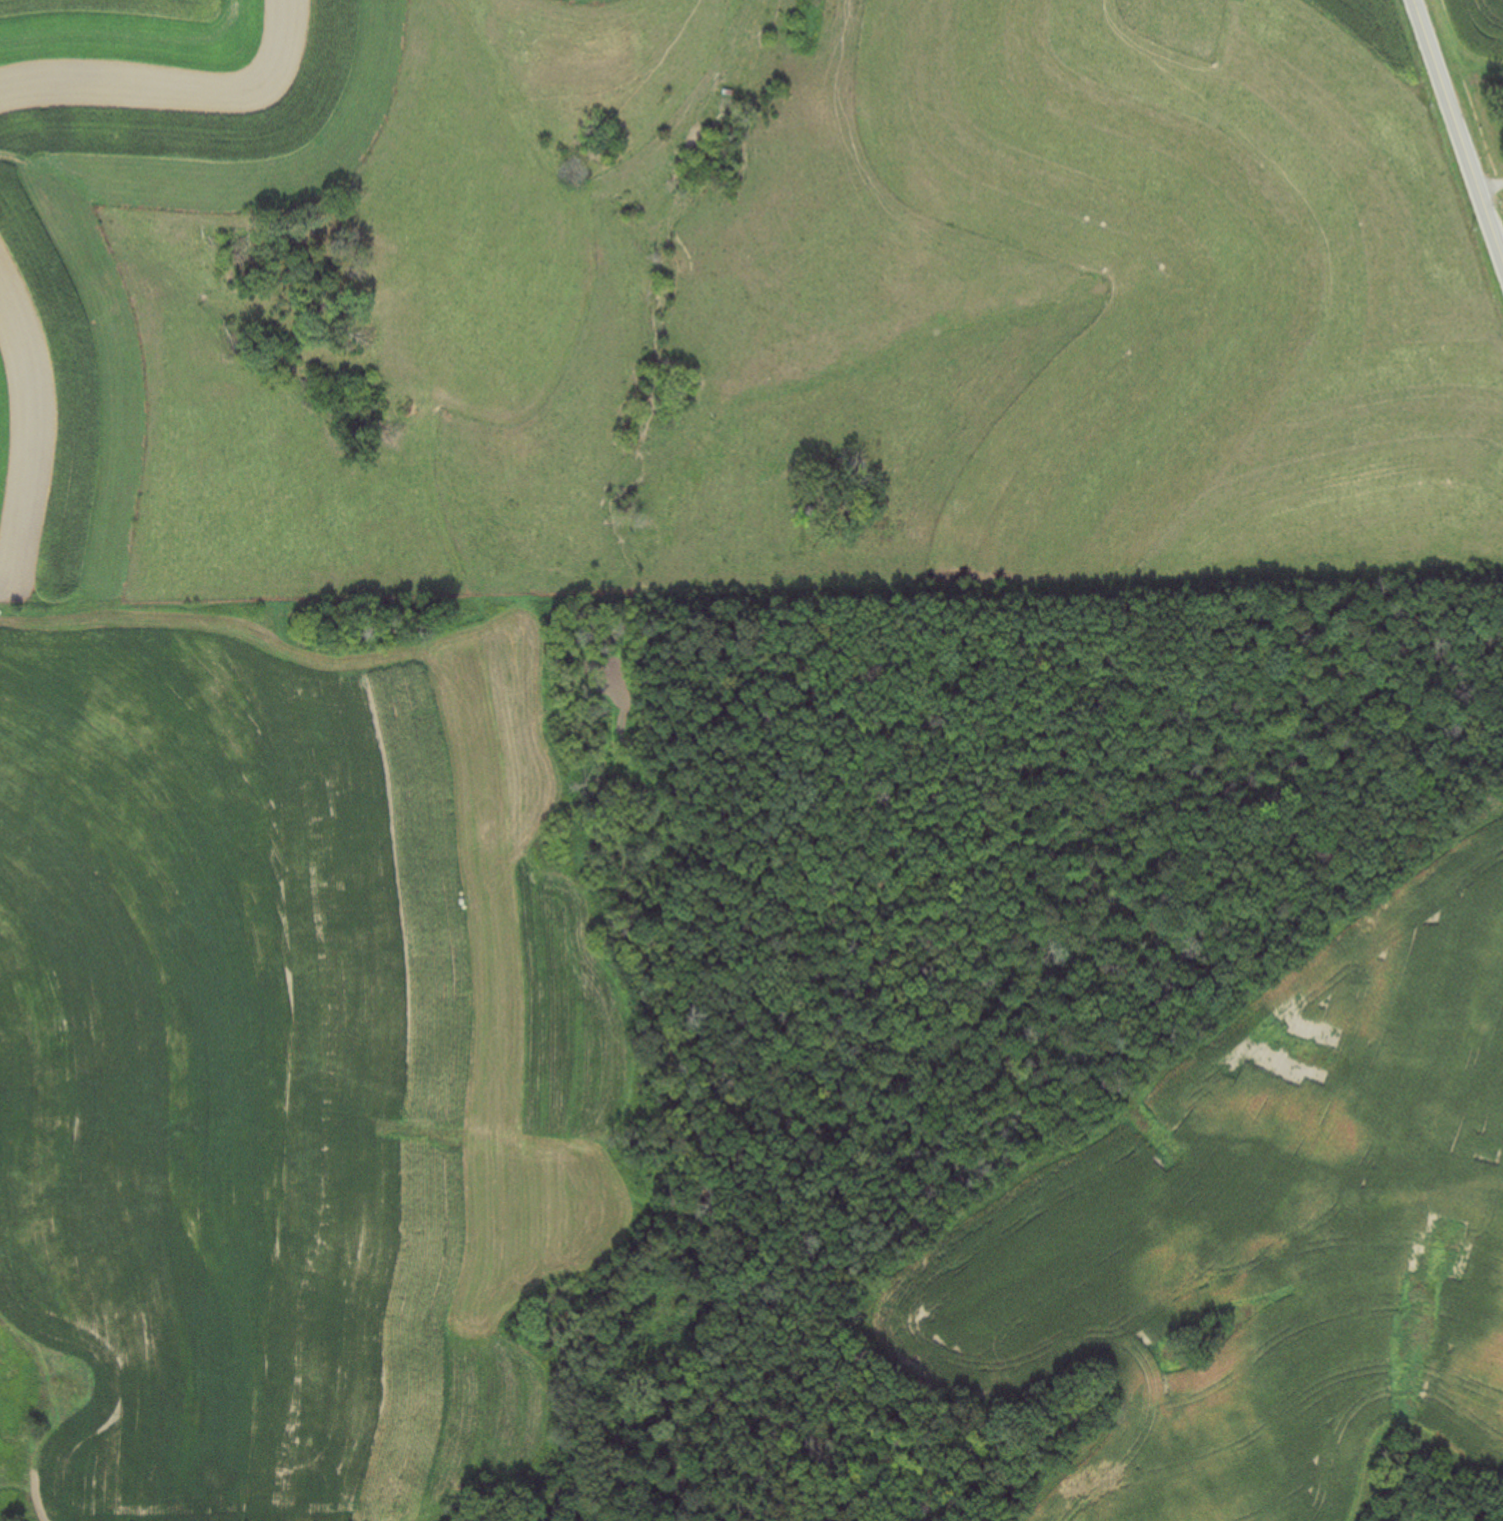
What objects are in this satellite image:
road: (1456, 134)

